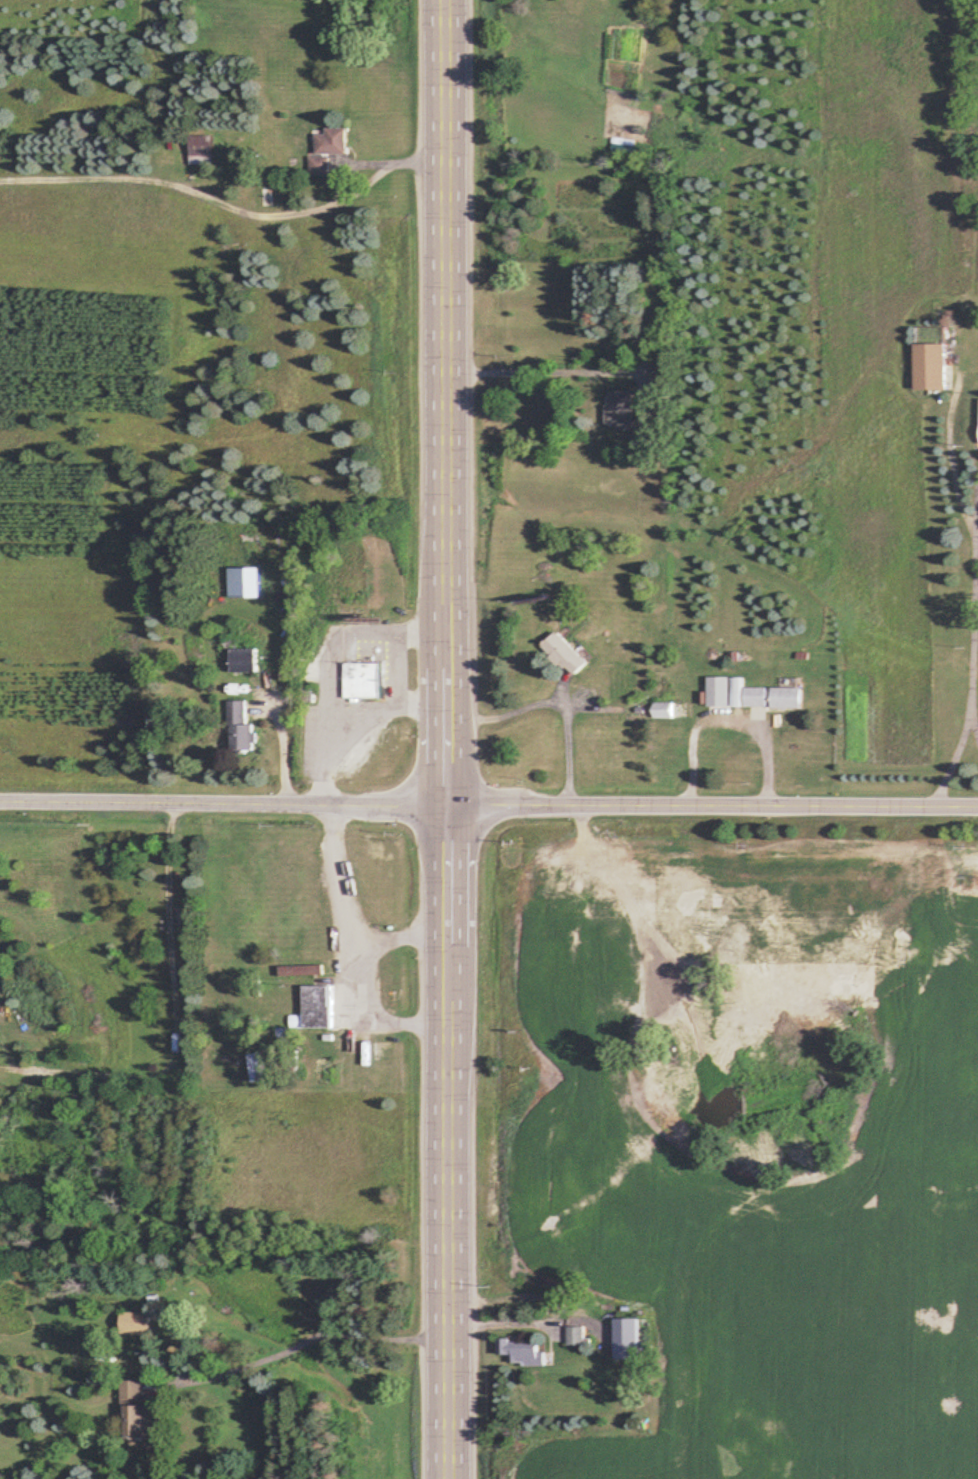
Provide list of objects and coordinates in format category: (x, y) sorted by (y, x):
building: (330, 141)
building: (200, 148)
road: (393, 159)
building: (318, 166)
building: (929, 365)
road: (527, 367)
building: (619, 411)
road: (973, 604)
building: (564, 653)
building: (243, 659)
road: (328, 668)
building: (361, 679)
building: (755, 696)
building: (785, 696)
road: (556, 702)
road: (386, 709)
building: (663, 709)
road: (728, 717)
road: (973, 722)
building: (239, 726)
road: (449, 739)
road: (284, 745)
road: (224, 802)
road: (713, 806)
road: (354, 909)
building: (300, 969)
building: (394, 976)
building: (315, 1007)
road: (379, 1008)
building: (381, 1049)
building: (384, 1068)
building: (386, 1084)
park: (746, 1119)
building: (135, 1322)
building: (576, 1325)
road: (311, 1337)
building: (521, 1351)
building: (135, 1413)

